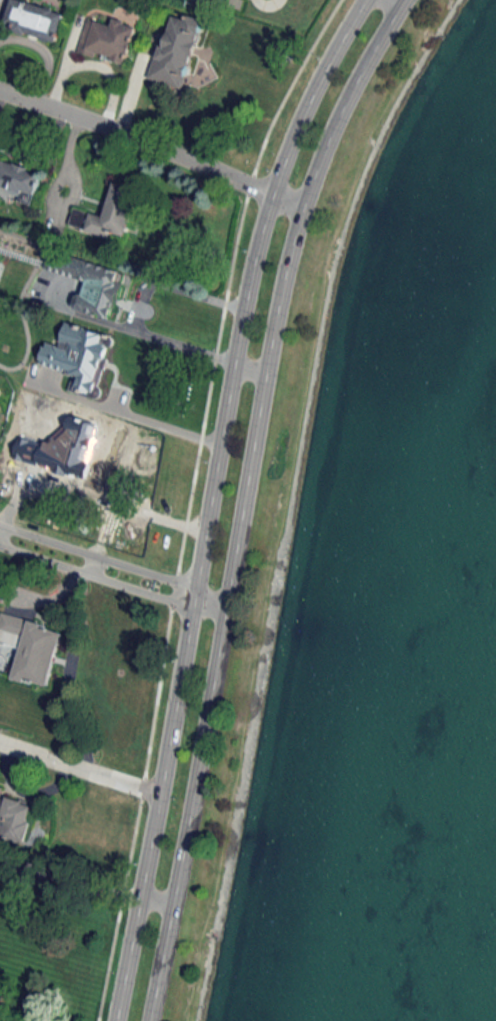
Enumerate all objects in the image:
building: (220, 2)
road: (393, 3)
building: (34, 19)
building: (107, 40)
building: (177, 50)
road: (152, 147)
building: (18, 182)
building: (108, 213)
building: (90, 282)
road: (136, 305)
building: (78, 355)
road: (249, 369)
road: (158, 420)
road: (243, 499)
road: (208, 501)
road: (96, 554)
road: (91, 563)
road: (94, 574)
road: (207, 606)
building: (31, 647)
road: (78, 766)
building: (14, 818)
road: (85, 878)

